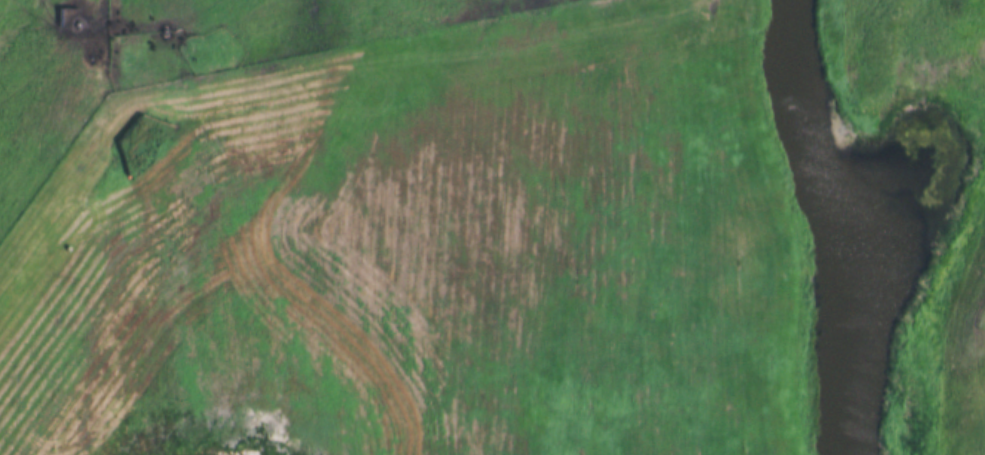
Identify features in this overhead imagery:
river: (836, 226)

